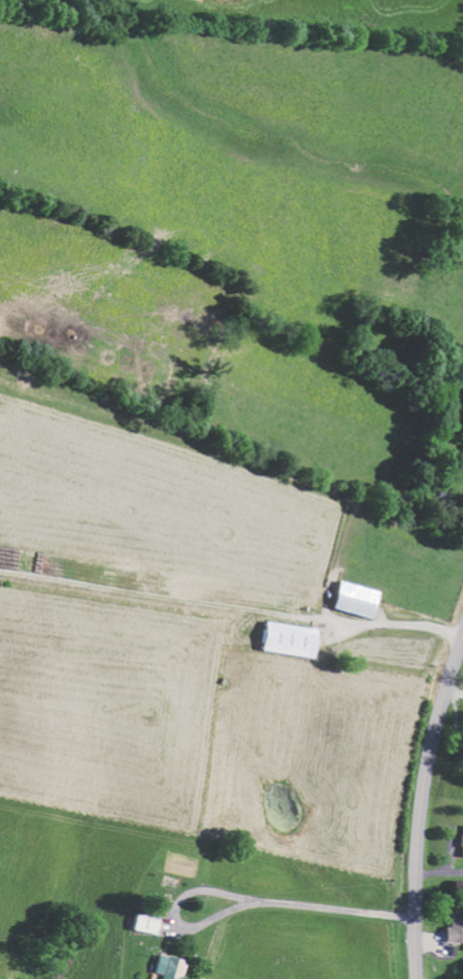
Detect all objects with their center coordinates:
building: (361, 598)
building: (294, 639)
road: (423, 806)
building: (150, 923)
building: (456, 930)
building: (172, 966)

